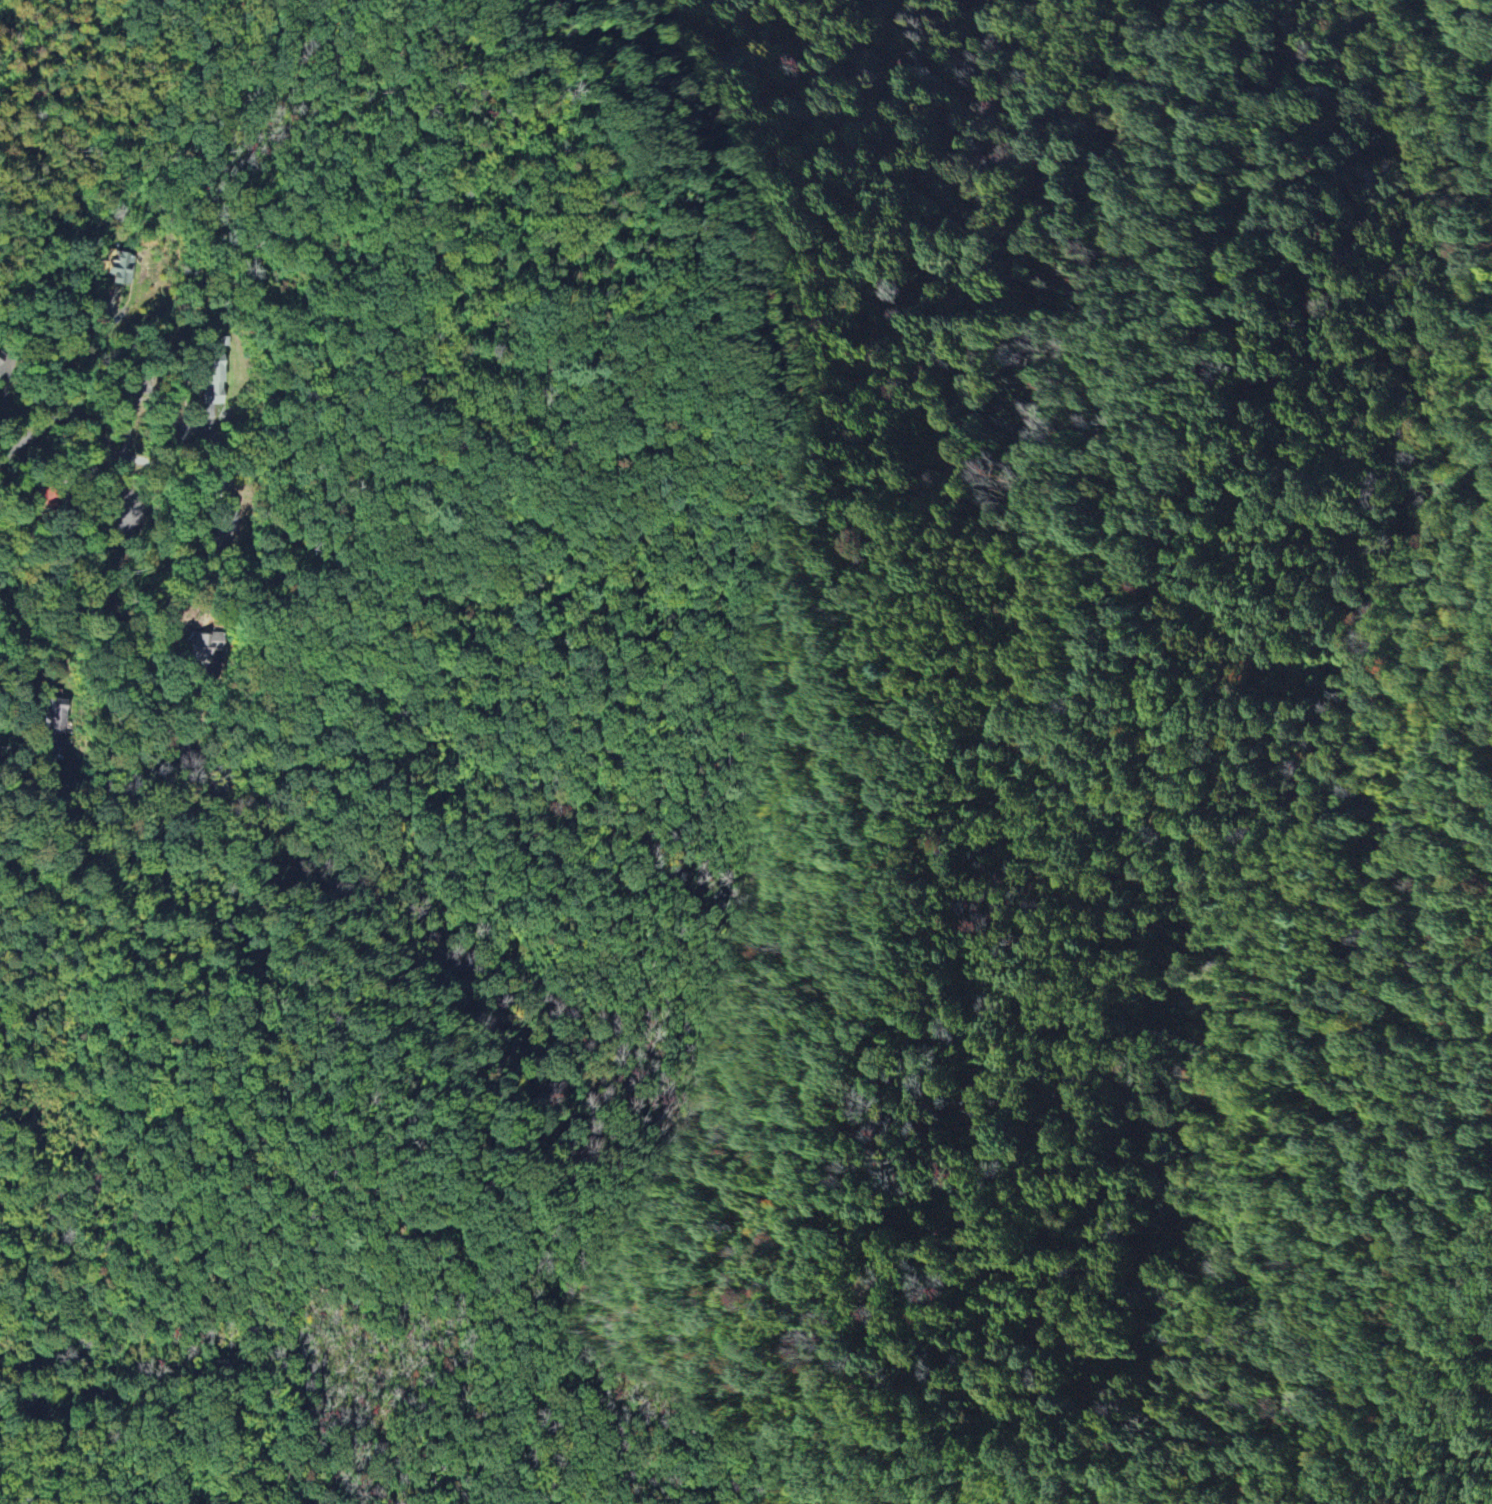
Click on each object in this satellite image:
road: (80, 373)
road: (138, 395)
road: (86, 431)
road: (14, 676)
road: (148, 686)

